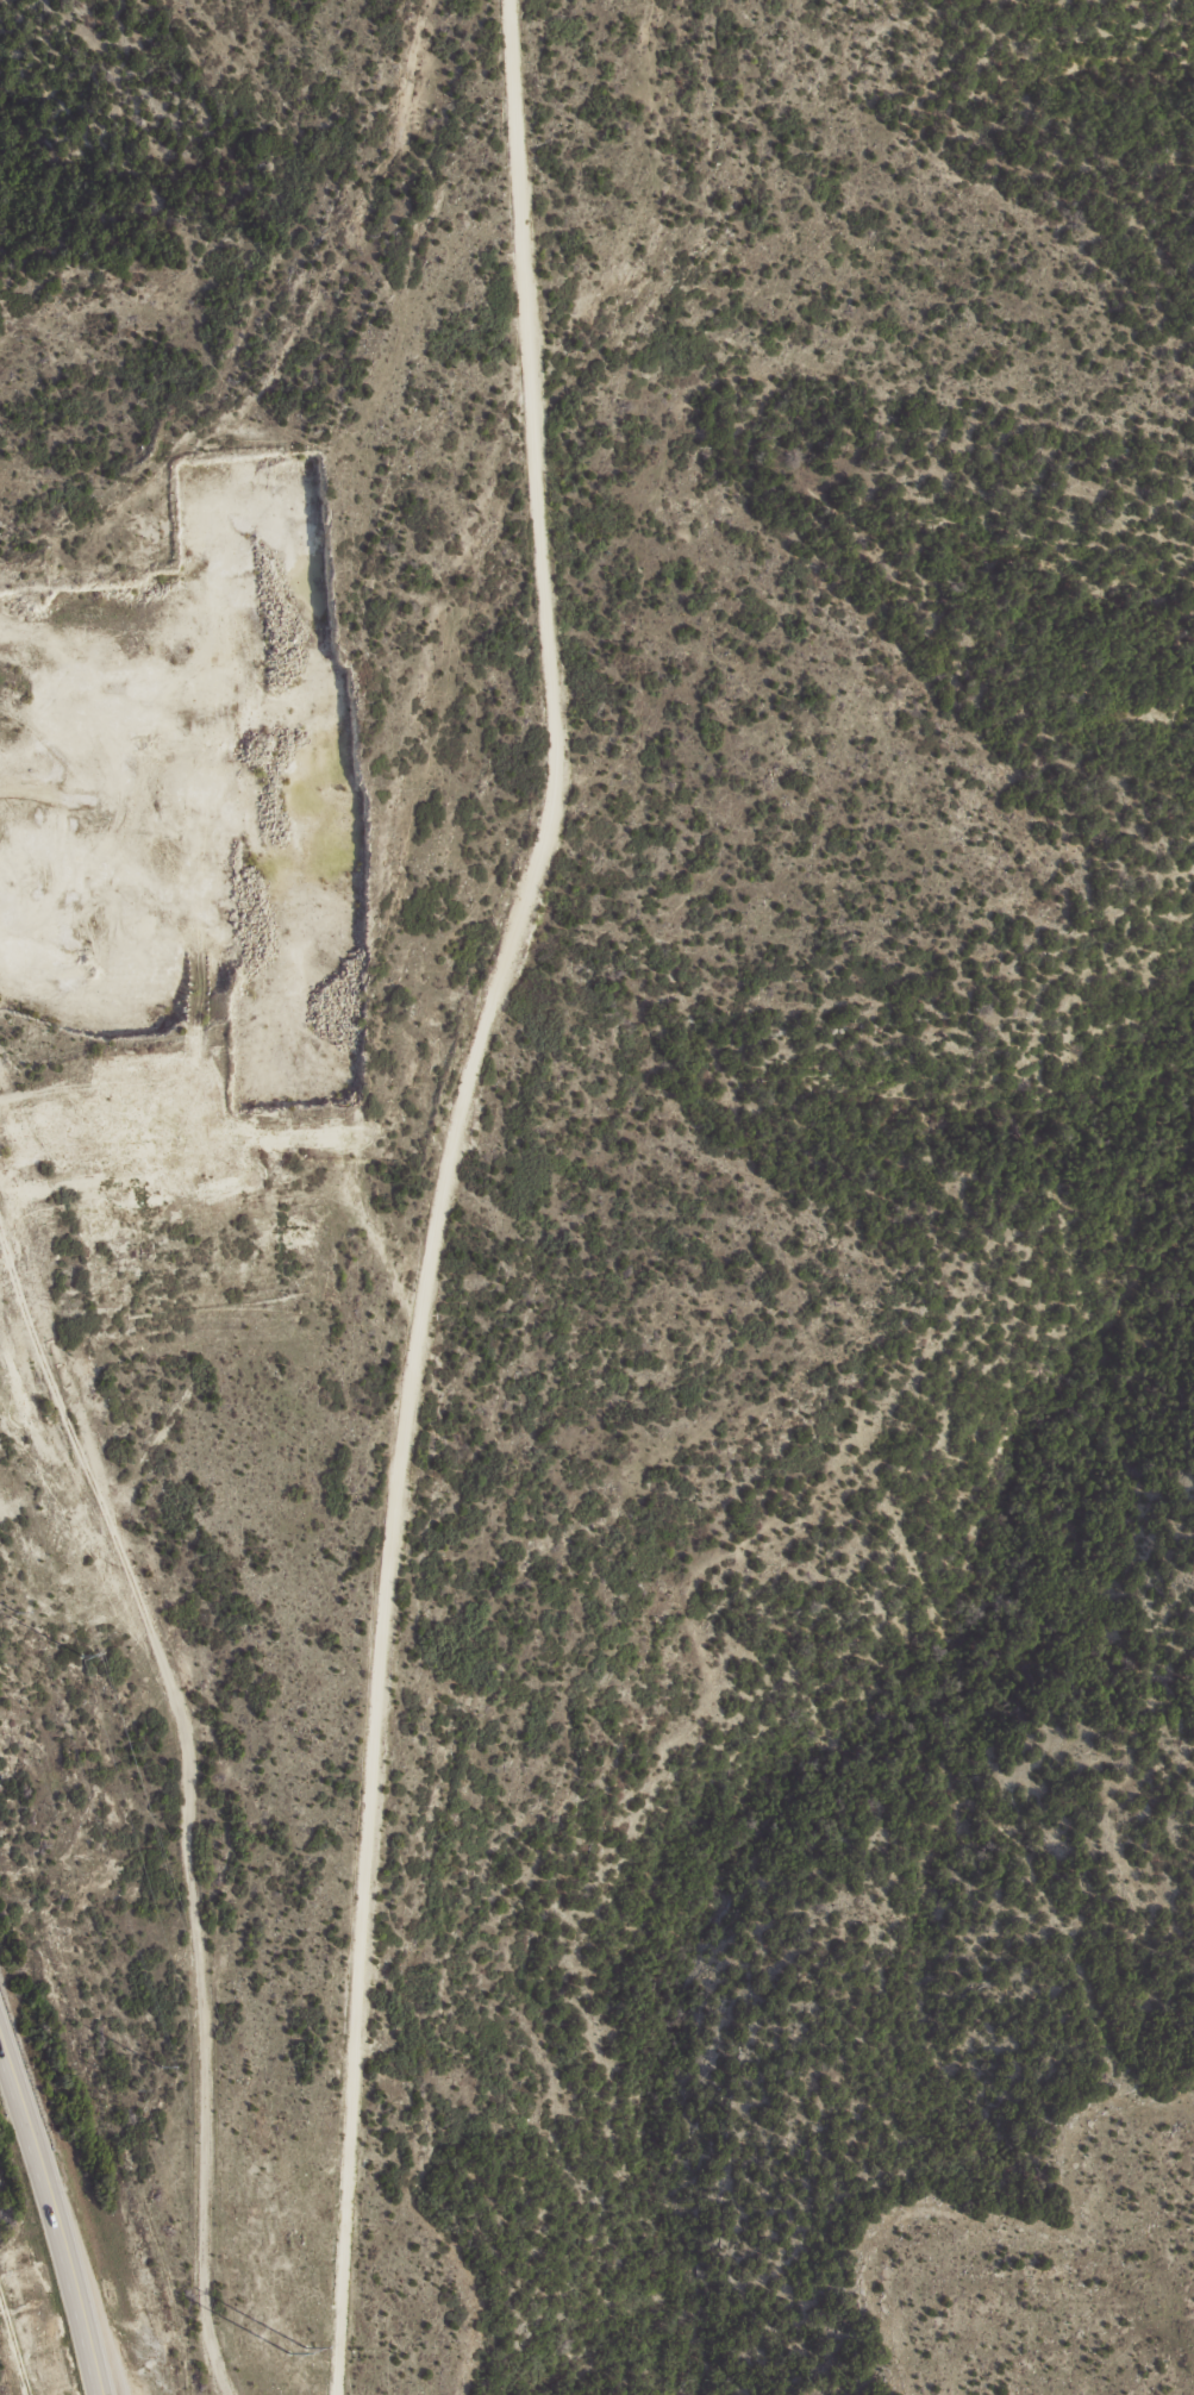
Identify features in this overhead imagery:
road: (438, 1190)
power tower: (14, 1609)
power tower: (79, 1655)
power tower: (2, 1665)
power tower: (158, 2065)
power tower: (136, 2088)
road: (54, 2214)
power tower: (295, 2350)

